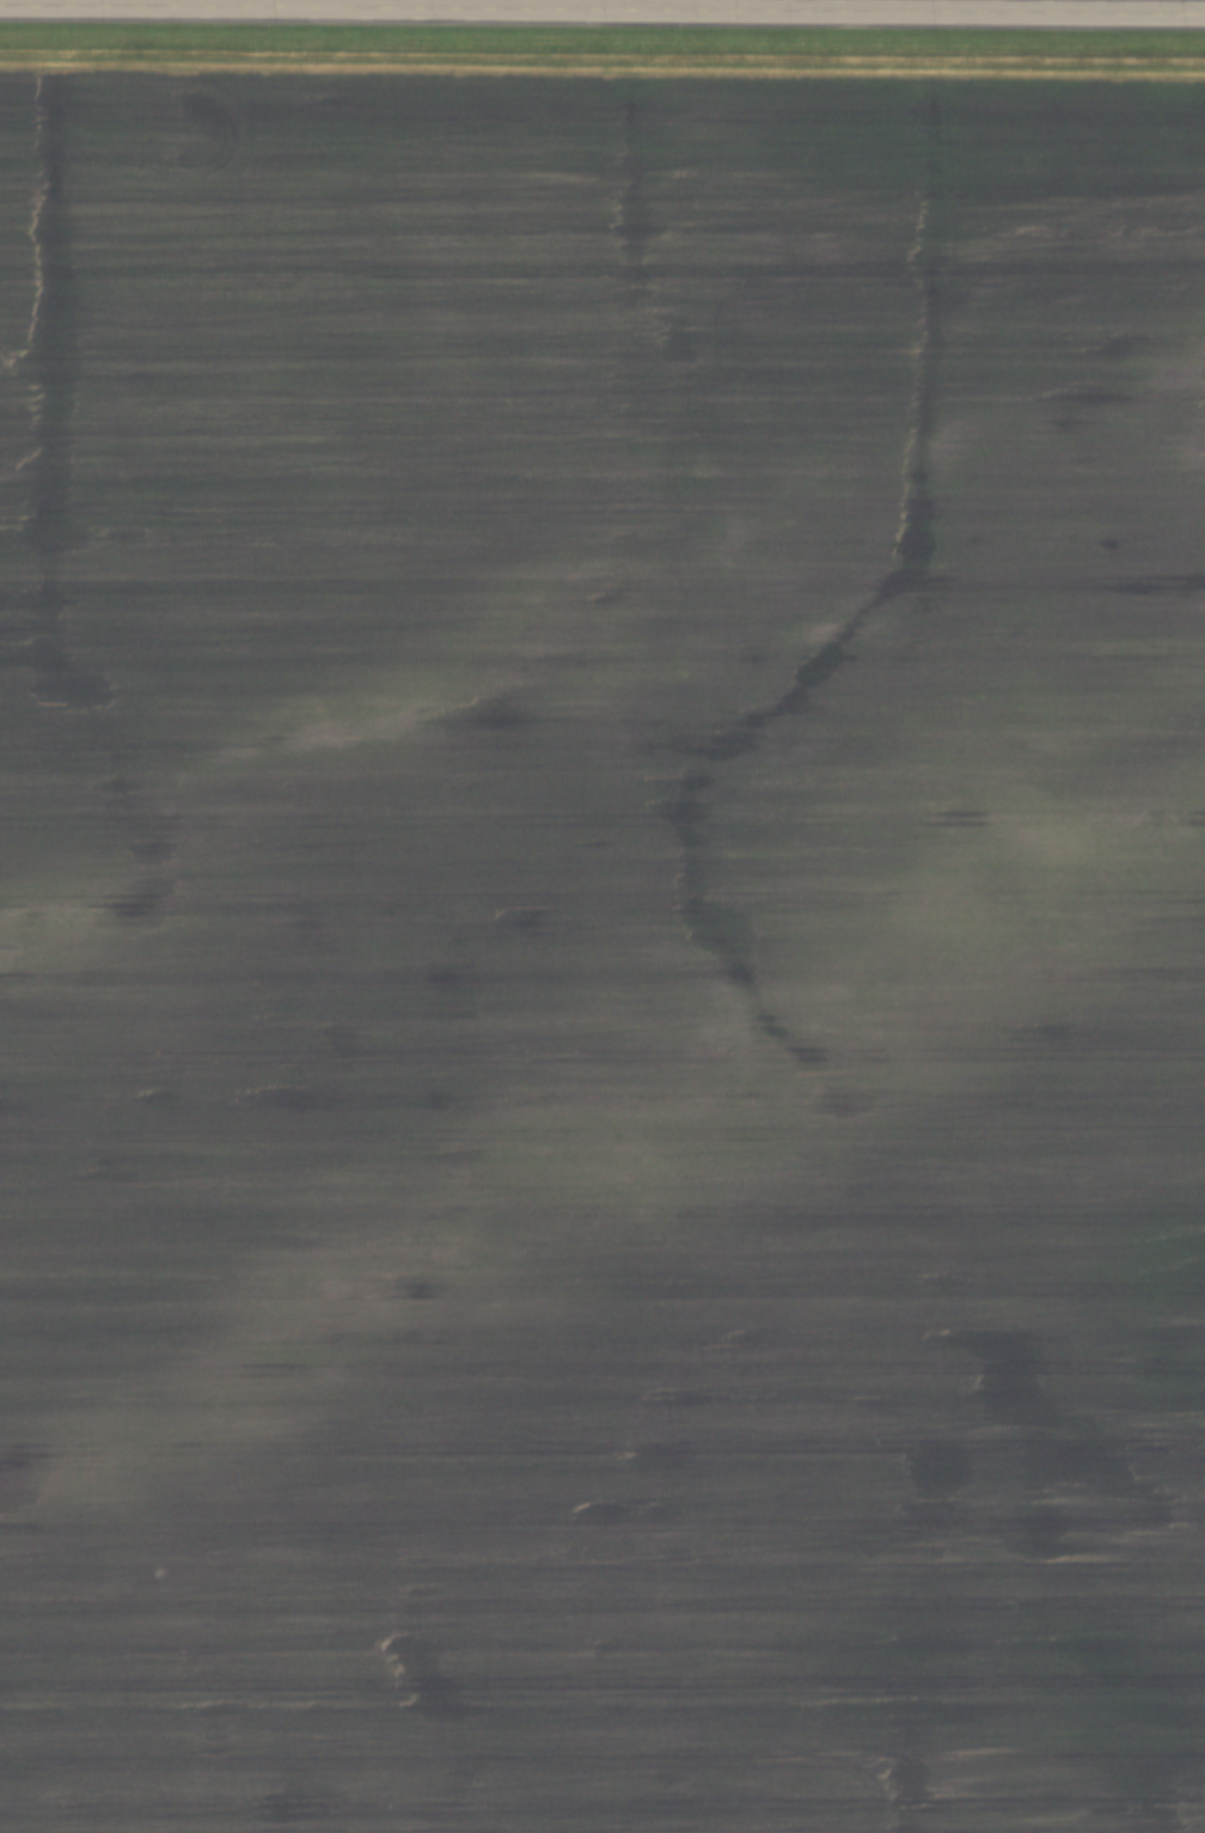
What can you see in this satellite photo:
road: (602, 10)

